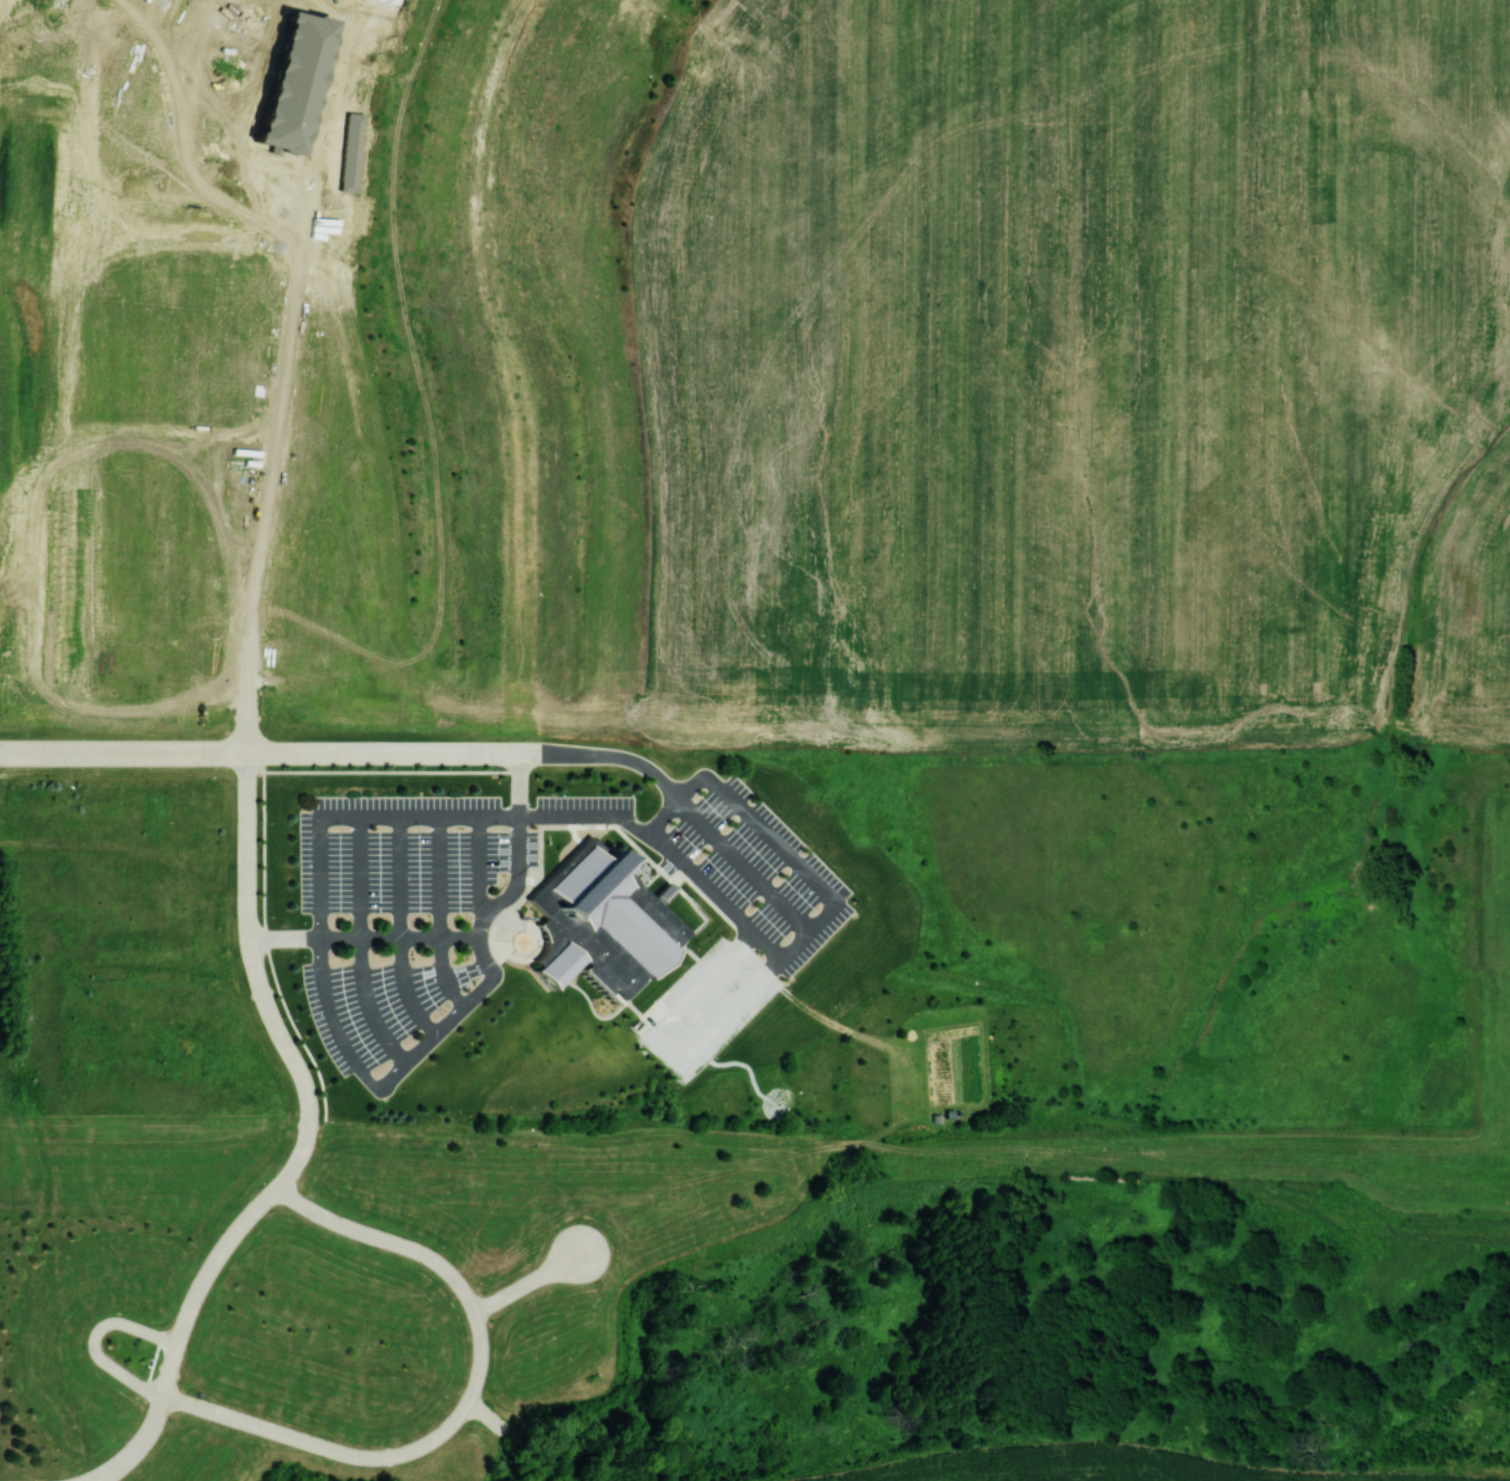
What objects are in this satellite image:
road: (569, 359)
road: (510, 370)
road: (248, 689)
road: (123, 751)
road: (473, 751)
road: (326, 752)
road: (617, 753)
road: (383, 771)
road: (594, 817)
road: (767, 836)
road: (479, 864)
road: (740, 866)
parking lot: (410, 895)
road: (441, 913)
parking lot: (739, 919)
building: (596, 922)
road: (403, 929)
road: (477, 936)
road: (363, 937)
road: (265, 942)
road: (250, 944)
road: (362, 944)
road: (270, 1193)
road: (429, 1256)
road: (531, 1280)
road: (94, 1338)
road: (167, 1376)
road: (489, 1418)
road: (321, 1446)

